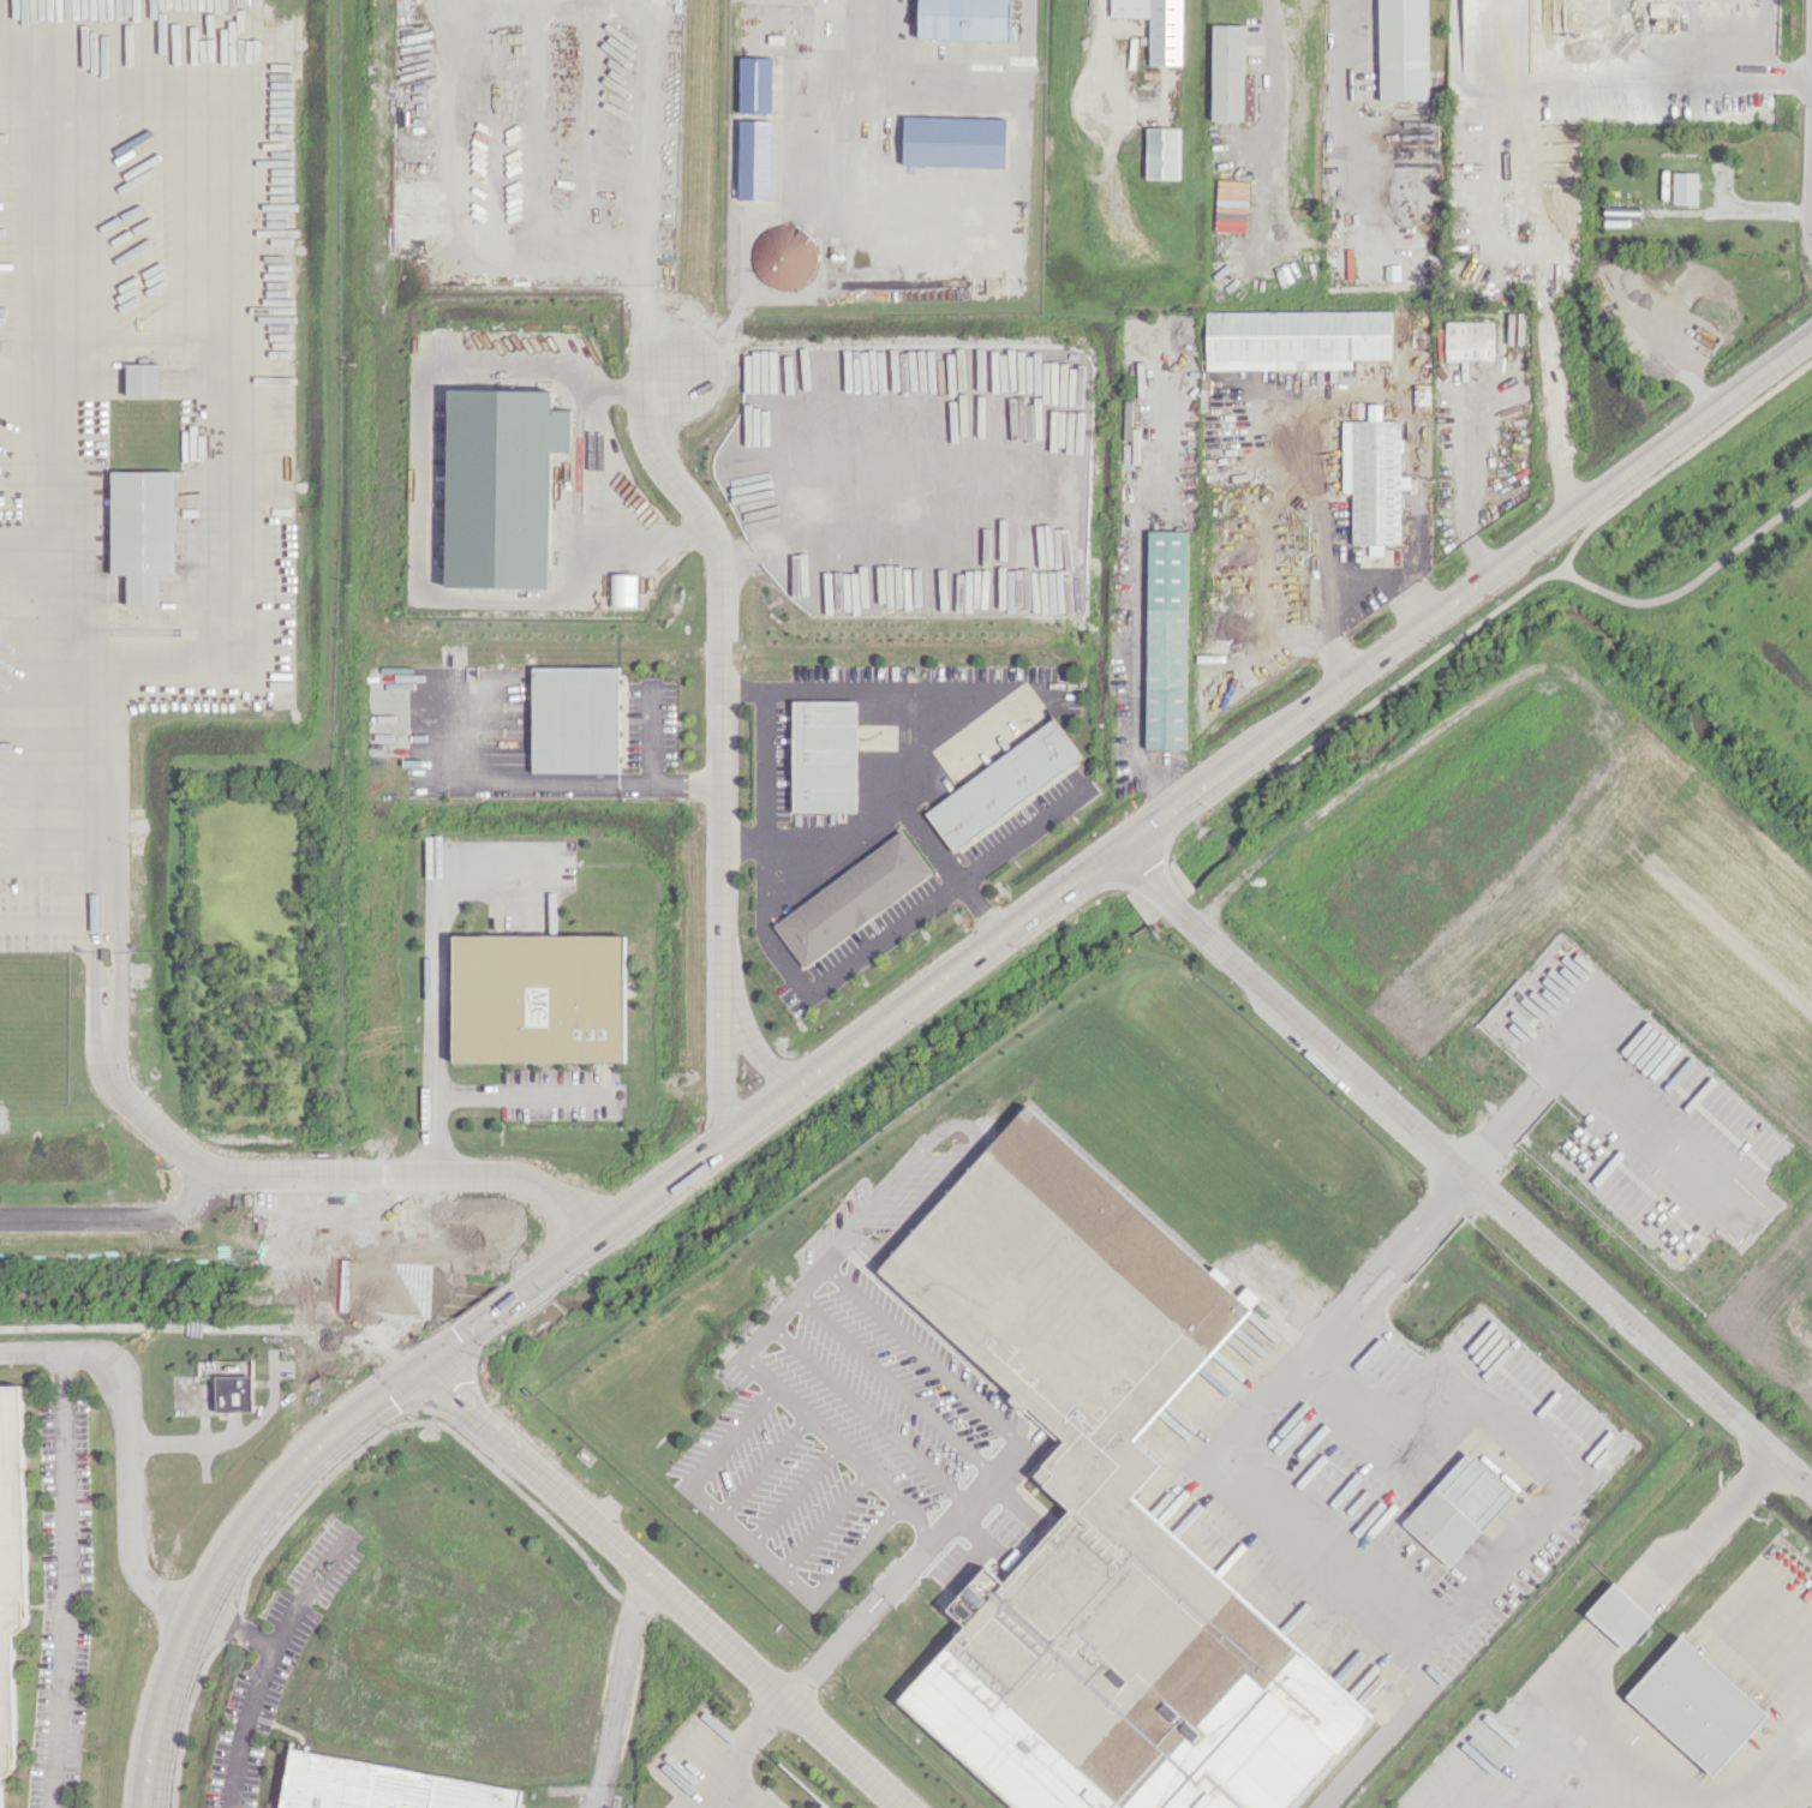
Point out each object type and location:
building: (1747, 0)
building: (965, 19)
building: (1155, 26)
road: (1763, 37)
building: (1403, 49)
road: (1270, 71)
building: (1227, 72)
building: (755, 84)
building: (1161, 152)
road: (1532, 160)
building: (1685, 187)
road: (1811, 202)
building: (783, 256)
building: (1682, 323)
building: (1296, 339)
building: (1469, 340)
building: (142, 379)
road: (598, 388)
road: (633, 391)
building: (1374, 412)
road: (238, 447)
road: (418, 455)
road: (1679, 459)
building: (1373, 479)
building: (502, 485)
road: (1461, 497)
road: (693, 529)
building: (143, 531)
road: (1320, 538)
road: (626, 552)
building: (623, 589)
road: (1519, 589)
road: (562, 591)
building: (1165, 639)
road: (1137, 658)
road: (720, 682)
road: (1302, 708)
building: (575, 719)
road: (648, 736)
road: (764, 746)
building: (824, 755)
road: (593, 782)
building: (1003, 784)
road: (886, 814)
road: (54, 858)
building: (853, 898)
road: (54, 921)
road: (109, 951)
road: (433, 974)
building: (538, 998)
road: (910, 1022)
road: (760, 1055)
road: (1581, 1065)
road: (719, 1080)
road: (516, 1094)
road: (761, 1114)
road: (175, 1144)
road: (1464, 1169)
road: (395, 1172)
road: (501, 1173)
road: (115, 1210)
road: (627, 1213)
road: (1398, 1237)
road: (1416, 1253)
road: (370, 1276)
road: (363, 1281)
building: (1248, 1295)
road: (498, 1309)
road: (524, 1310)
road: (785, 1311)
road: (139, 1325)
road: (447, 1349)
road: (351, 1360)
road: (360, 1366)
road: (453, 1373)
road: (970, 1399)
road: (407, 1415)
road: (222, 1436)
road: (737, 1438)
road: (839, 1447)
road: (122, 1451)
road: (333, 1465)
road: (765, 1465)
road: (794, 1493)
building: (1457, 1508)
building: (1101, 1516)
road: (823, 1521)
road: (604, 1533)
road: (753, 1544)
road: (855, 1553)
road: (232, 1556)
road: (1354, 1567)
road: (61, 1580)
building: (11, 1593)
building: (1619, 1615)
road: (860, 1618)
road: (240, 1629)
road: (617, 1696)
road: (257, 1700)
building: (1696, 1705)
road: (734, 1753)
road: (845, 1753)
building: (383, 1786)
building: (820, 1807)

